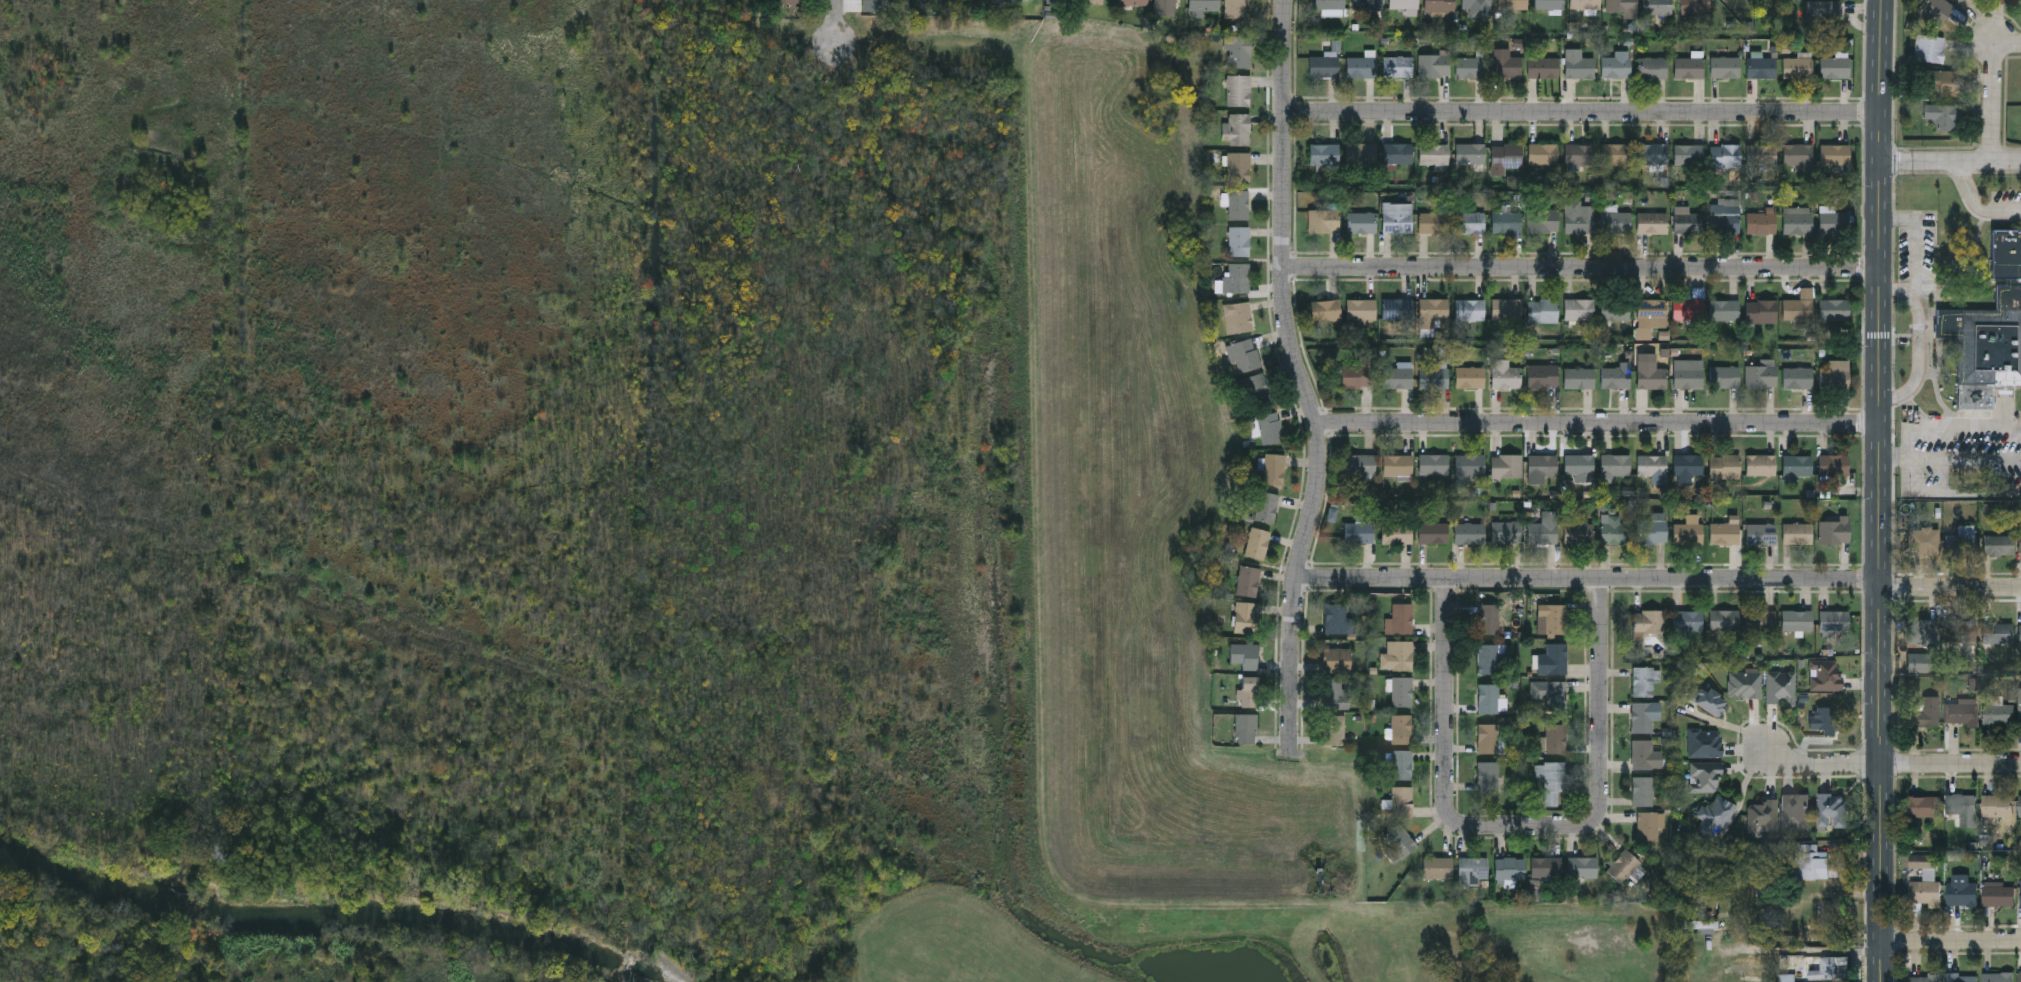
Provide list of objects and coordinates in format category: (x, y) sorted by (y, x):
building: (897, 1)
building: (1024, 1)
building: (1095, 1)
building: (1961, 1)
building: (788, 2)
building: (1060, 2)
building: (1133, 2)
building: (1329, 4)
building: (1367, 4)
building: (1404, 4)
building: (1476, 4)
building: (1512, 4)
building: (1549, 4)
building: (1585, 4)
building: (1204, 5)
building: (1621, 5)
building: (1440, 6)
building: (1695, 6)
building: (1166, 7)
building: (1657, 7)
building: (1236, 9)
building: (1934, 9)
building: (1821, 12)
road: (836, 21)
building: (1928, 47)
building: (1239, 51)
building: (1506, 63)
building: (1325, 65)
building: (1434, 65)
building: (1398, 66)
building: (1616, 66)
building: (1362, 67)
building: (1471, 67)
building: (1544, 67)
building: (1580, 67)
building: (1653, 67)
building: (1689, 67)
building: (1725, 67)
building: (1762, 67)
building: (1797, 67)
building: (1835, 67)
building: (1944, 81)
building: (1238, 90)
road: (1996, 94)
road: (1585, 113)
building: (1943, 115)
building: (1237, 129)
building: (1361, 152)
building: (1398, 152)
building: (1324, 153)
building: (1471, 153)
building: (1616, 153)
building: (1434, 154)
building: (1507, 154)
building: (1543, 154)
building: (1580, 154)
building: (1652, 154)
building: (1689, 154)
building: (1761, 154)
building: (1798, 154)
building: (1835, 154)
building: (1726, 155)
road: (1951, 161)
building: (1238, 167)
building: (1924, 197)
road: (1977, 202)
building: (1238, 204)
building: (1397, 217)
building: (1725, 218)
building: (1323, 219)
building: (1544, 220)
building: (1581, 220)
building: (1798, 220)
building: (1362, 221)
building: (1507, 221)
building: (1689, 221)
building: (1835, 221)
building: (1434, 222)
building: (1470, 222)
building: (1617, 222)
building: (1652, 222)
building: (1761, 222)
building: (1960, 224)
road: (1916, 238)
building: (1238, 240)
road: (1584, 266)
building: (1239, 277)
building: (1799, 305)
building: (1397, 308)
building: (1506, 308)
building: (1579, 308)
building: (1689, 308)
building: (1326, 309)
building: (1470, 309)
building: (1615, 309)
building: (1724, 309)
building: (1835, 309)
building: (1543, 310)
building: (1361, 311)
building: (1761, 311)
building: (1433, 312)
building: (1653, 312)
building: (1237, 316)
building: (1990, 332)
road: (1920, 341)
building: (1245, 353)
road: (1302, 369)
building: (1505, 374)
building: (1689, 374)
building: (1650, 375)
building: (1835, 375)
building: (1356, 376)
building: (1542, 376)
building: (1725, 376)
building: (1761, 376)
building: (1397, 377)
building: (1435, 377)
building: (1470, 377)
building: (1579, 377)
building: (1616, 377)
building: (1797, 377)
building: (1255, 388)
road: (1602, 424)
road: (1953, 425)
building: (1269, 427)
road: (1896, 455)
building: (1360, 464)
building: (1398, 464)
building: (1433, 464)
building: (1543, 464)
building: (1579, 464)
building: (1688, 464)
building: (1761, 464)
building: (1834, 464)
building: (1470, 465)
building: (1506, 465)
building: (1614, 466)
building: (1651, 466)
building: (1725, 466)
building: (1797, 466)
building: (1273, 468)
road: (1910, 475)
road: (1882, 491)
road: (1969, 493)
building: (1266, 506)
building: (1543, 528)
building: (1615, 529)
building: (1652, 530)
building: (1835, 530)
building: (1506, 531)
building: (1469, 532)
building: (1359, 533)
building: (1398, 533)
building: (1433, 533)
building: (1579, 533)
building: (1688, 533)
building: (1724, 533)
building: (1761, 533)
building: (1798, 533)
building: (2020, 540)
building: (1925, 541)
building: (1961, 541)
building: (1257, 543)
building: (1998, 545)
park: (977, 546)
road: (1660, 579)
building: (1248, 581)
building: (1245, 617)
building: (1402, 618)
building: (1488, 618)
building: (1552, 618)
building: (1688, 619)
building: (1725, 619)
building: (1797, 619)
building: (1337, 620)
building: (1649, 620)
building: (1761, 620)
building: (1834, 621)
building: (1960, 631)
building: (2020, 631)
building: (1921, 632)
building: (2001, 635)
building: (1244, 654)
building: (1397, 657)
building: (1489, 658)
building: (1336, 659)
building: (1554, 659)
building: (1827, 675)
building: (1645, 679)
building: (1745, 684)
building: (1781, 687)
building: (1249, 691)
building: (1402, 691)
building: (1335, 694)
building: (1556, 696)
building: (1488, 698)
building: (1708, 699)
building: (2020, 708)
building: (1961, 712)
building: (1926, 714)
building: (1998, 714)
building: (1644, 716)
building: (1825, 718)
building: (1246, 728)
building: (1401, 729)
building: (1334, 730)
road: (1604, 733)
road: (1449, 735)
building: (1487, 738)
building: (1556, 738)
building: (1705, 743)
building: (1646, 754)
road: (1951, 764)
building: (1401, 765)
road: (1820, 766)
building: (1706, 776)
building: (1487, 777)
building: (1553, 782)
road: (1746, 790)
building: (1643, 791)
building: (1401, 801)
building: (1997, 807)
building: (2020, 807)
building: (1924, 808)
building: (1961, 808)
building: (1832, 810)
building: (1795, 811)
building: (1763, 815)
building: (1715, 816)
building: (1649, 825)
building: (1400, 840)
building: (1811, 863)
building: (1437, 867)
building: (1509, 867)
building: (1546, 867)
building: (1581, 867)
building: (1624, 867)
building: (1472, 870)
building: (2020, 893)
building: (1924, 894)
building: (1961, 895)
building: (1998, 896)
building: (1814, 921)
building: (1701, 923)
road: (1950, 940)
building: (1831, 968)
building: (2020, 977)
building: (1960, 978)
building: (1997, 978)
building: (1917, 979)

